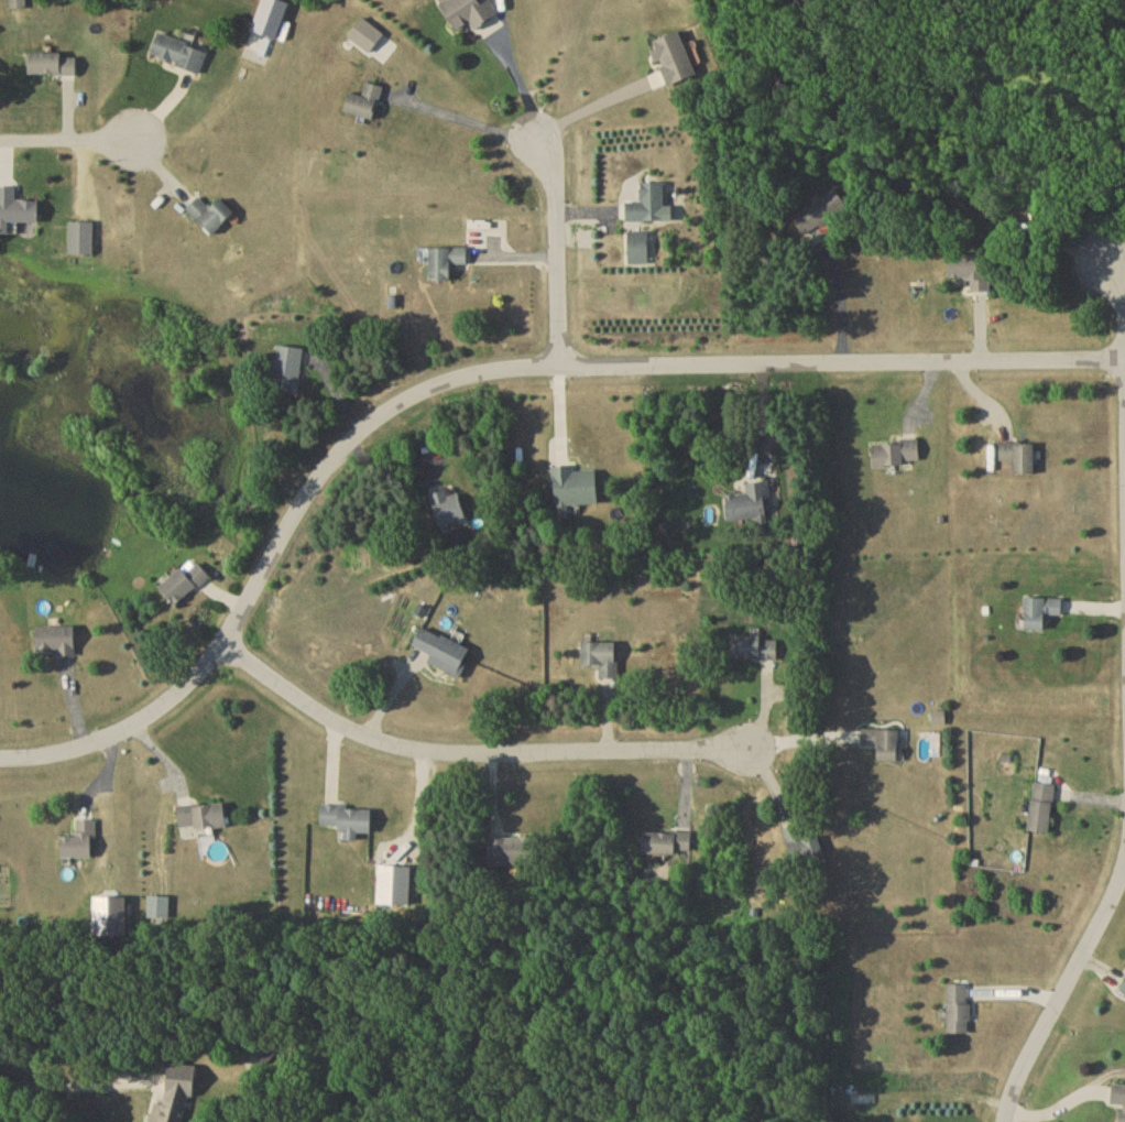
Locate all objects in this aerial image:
building: (18, 6)
building: (470, 15)
building: (367, 39)
building: (181, 56)
building: (675, 62)
building: (53, 67)
building: (365, 105)
road: (587, 109)
road: (462, 121)
road: (66, 144)
building: (651, 209)
building: (15, 213)
building: (821, 216)
building: (212, 218)
building: (81, 241)
road: (556, 248)
building: (640, 251)
road: (1118, 257)
building: (447, 265)
building: (972, 273)
road: (843, 303)
building: (288, 373)
road: (1122, 373)
road: (477, 375)
road: (764, 429)
building: (896, 457)
building: (1020, 460)
building: (575, 492)
building: (751, 506)
building: (449, 510)
building: (185, 587)
building: (1042, 616)
building: (57, 645)
building: (755, 651)
building: (445, 655)
building: (602, 662)
road: (797, 738)
building: (884, 748)
road: (468, 755)
building: (1042, 813)
building: (203, 820)
building: (348, 824)
building: (80, 846)
building: (667, 847)
building: (804, 848)
building: (513, 856)
road: (1068, 983)
building: (1124, 992)
building: (960, 1013)
building: (264, 1054)
road: (65, 1067)
building: (177, 1094)
building: (1119, 1101)

